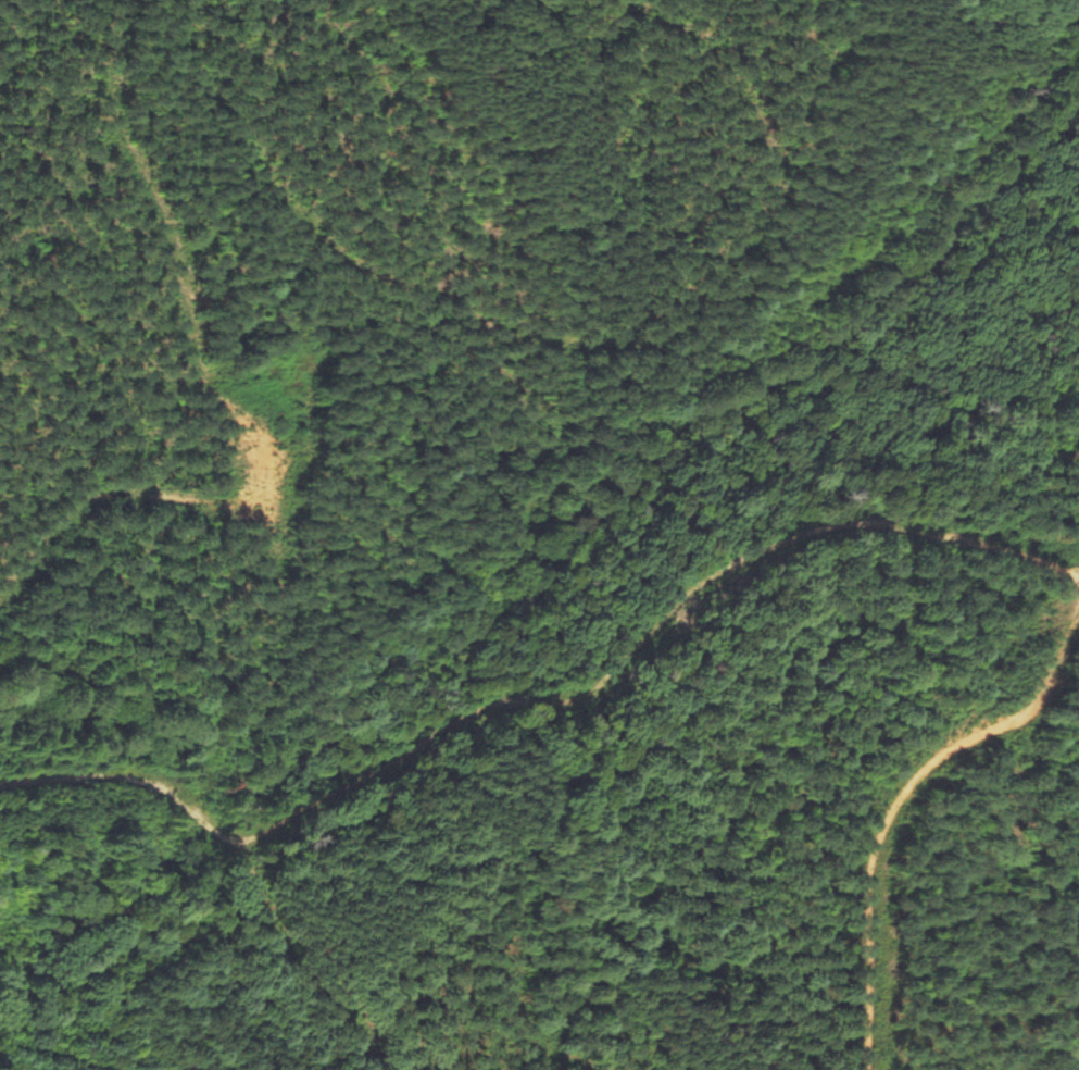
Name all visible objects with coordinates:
road: (547, 699)
road: (896, 801)

